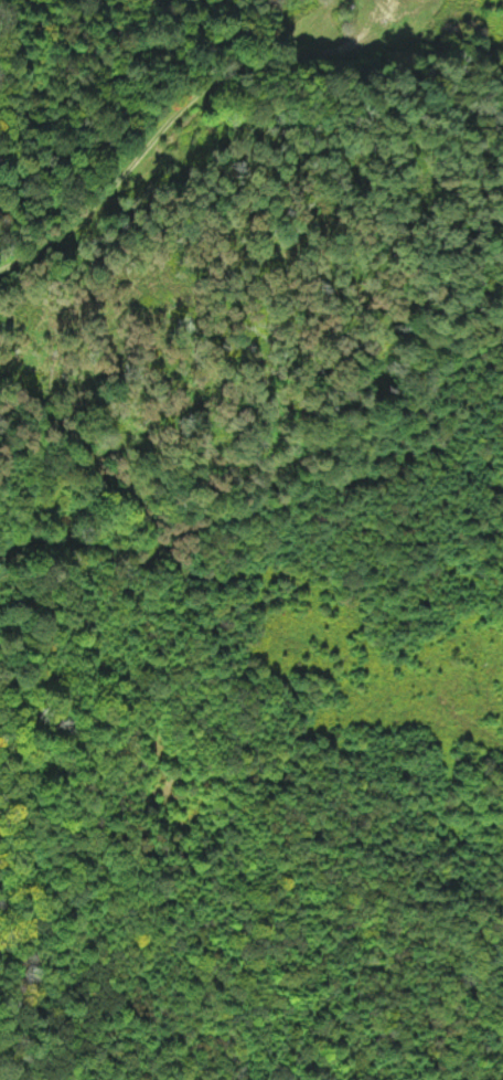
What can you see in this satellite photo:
road: (464, 136)
road: (17, 282)

